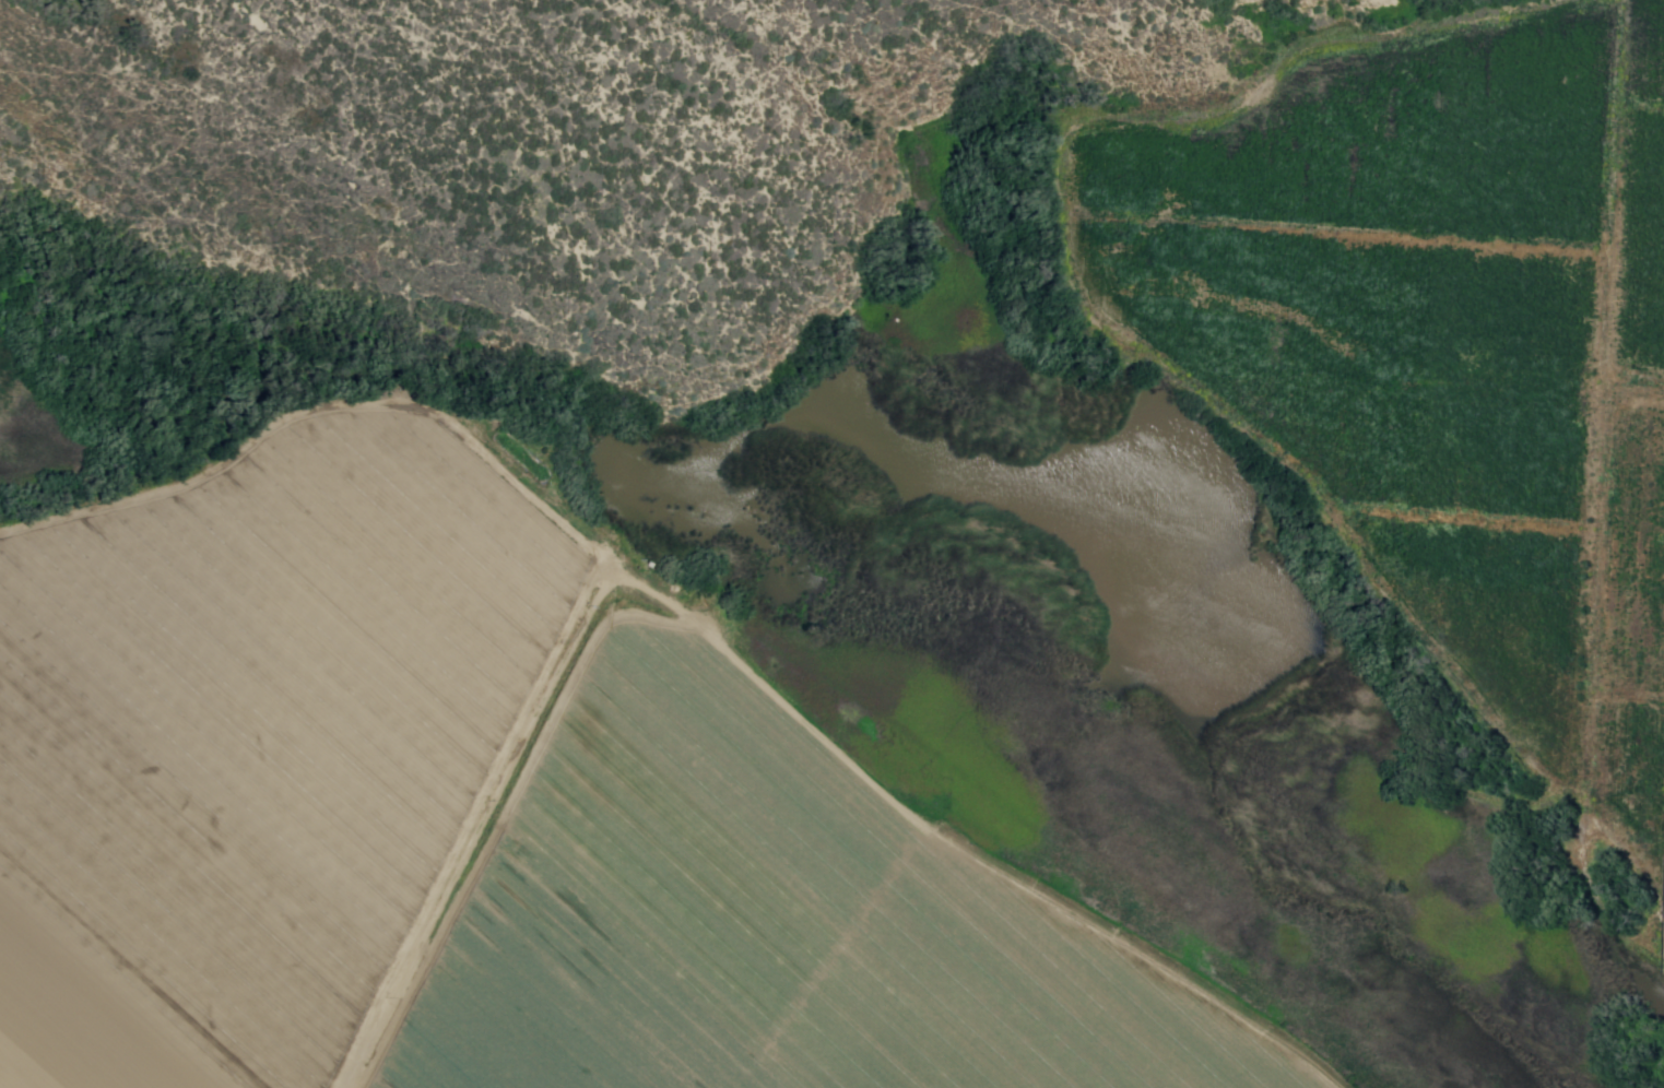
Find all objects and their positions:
crop: (1645, 60)
crop: (1411, 142)
crop: (1641, 256)
crop: (1369, 353)
park: (829, 543)
crop: (1638, 554)
crop: (1497, 615)
crop: (261, 737)
crop: (1633, 773)
crop: (772, 922)

